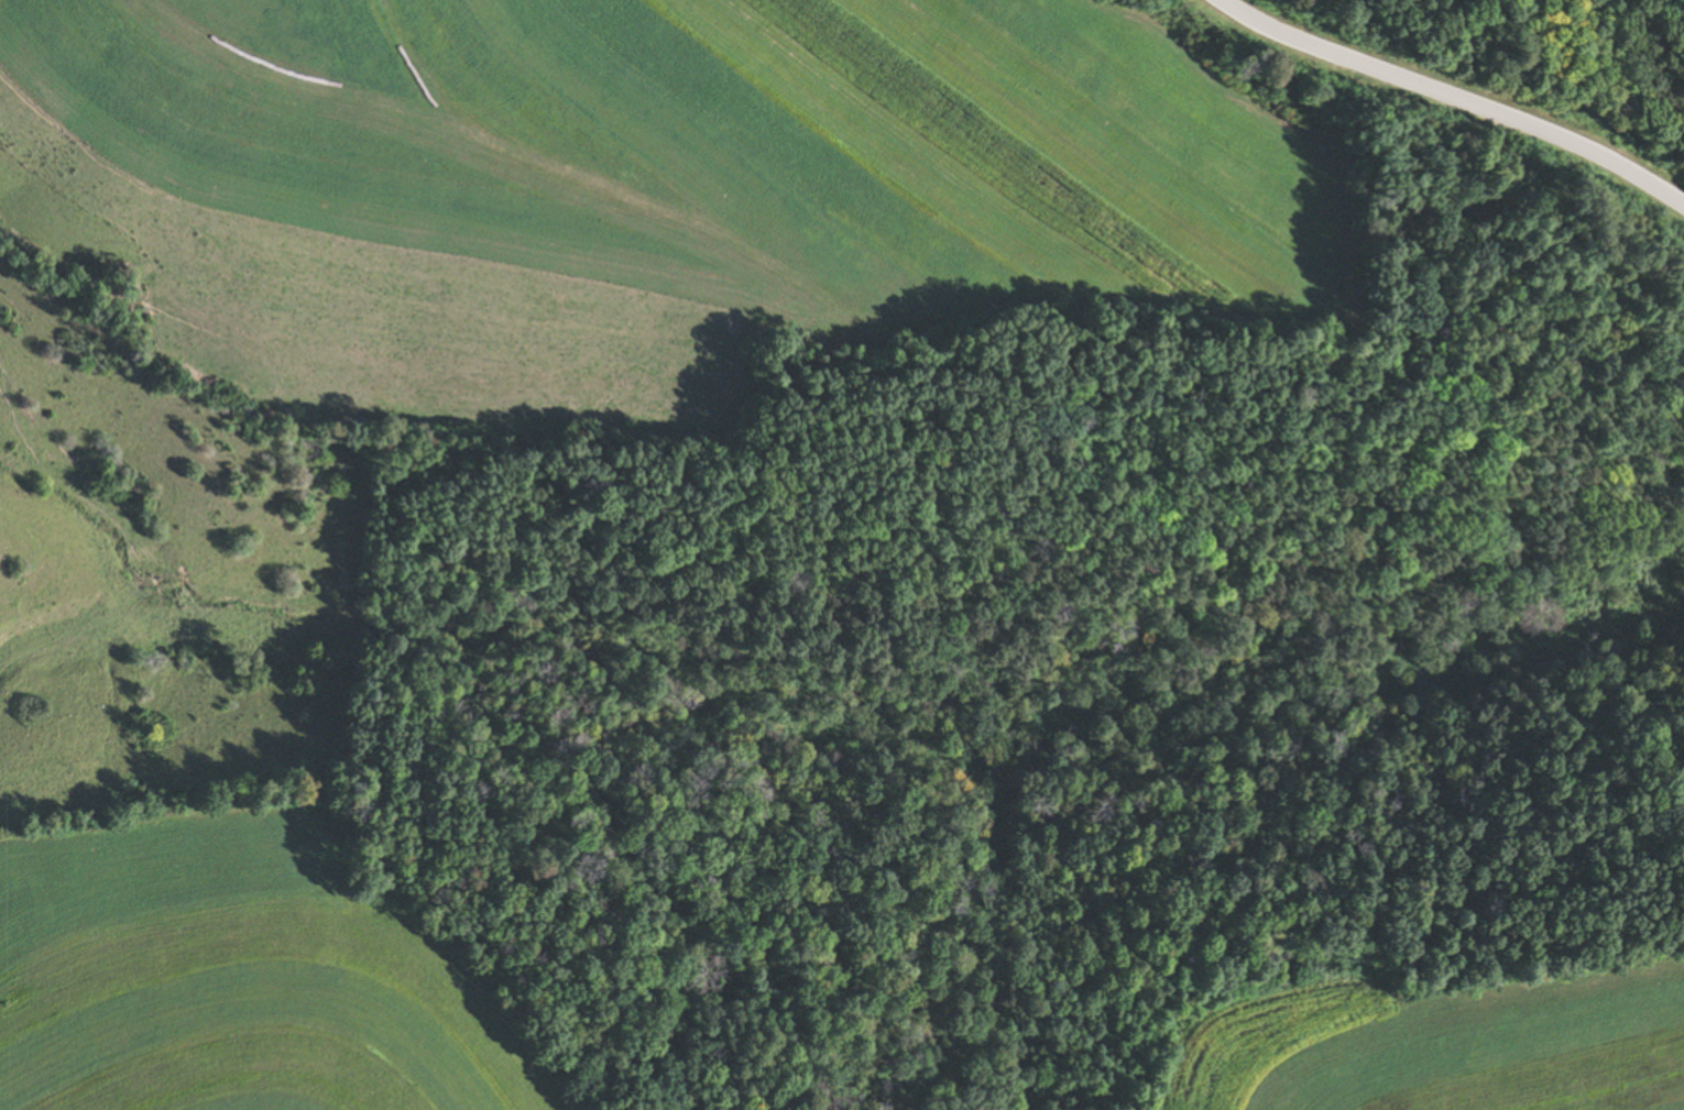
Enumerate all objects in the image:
road: (1459, 96)
crop: (642, 188)
crop: (237, 979)
crop: (1444, 1047)

